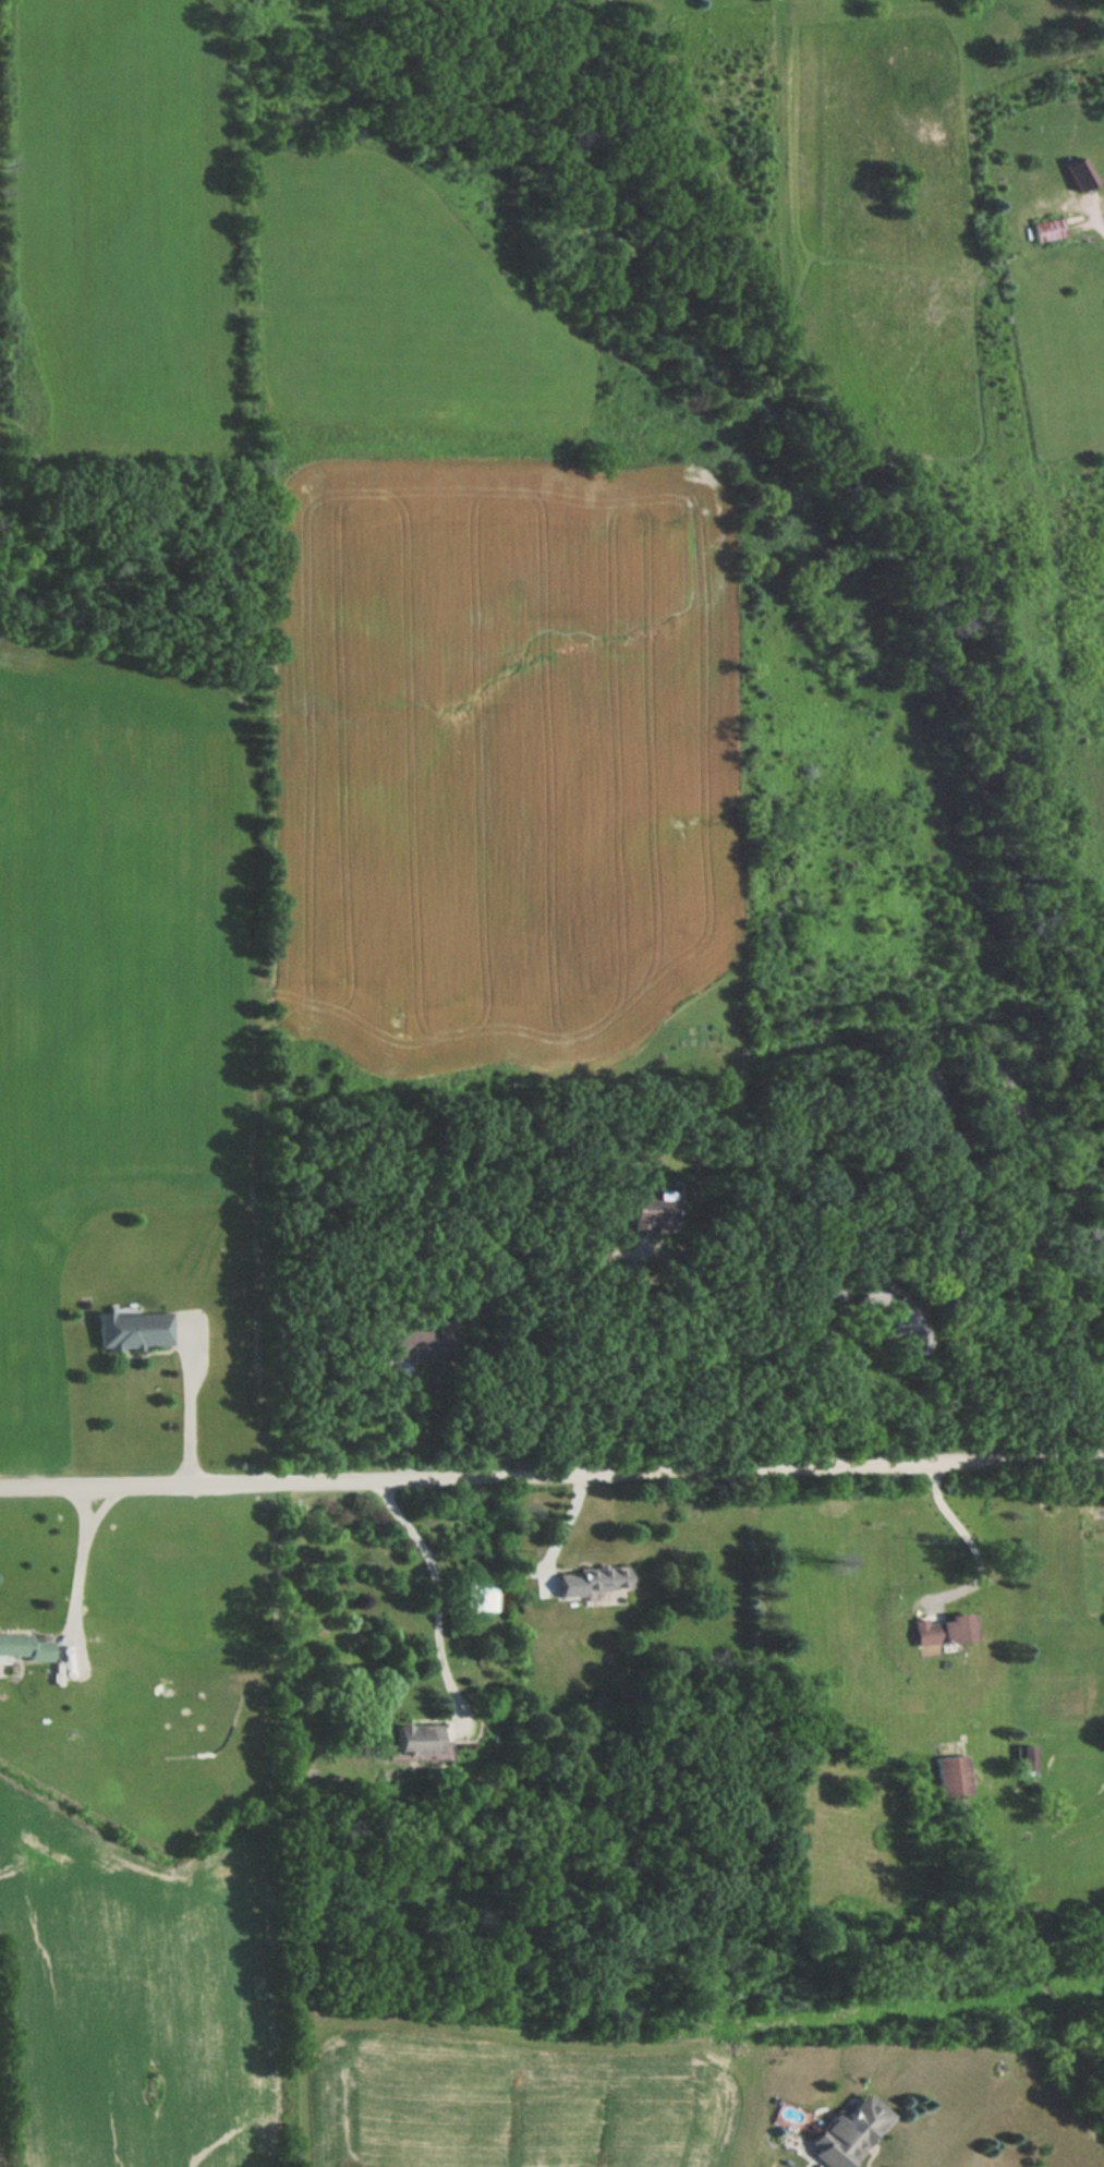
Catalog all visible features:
building: (1078, 172)
road: (1094, 215)
road: (1083, 220)
building: (1048, 228)
building: (932, 1101)
building: (891, 1313)
building: (135, 1329)
road: (622, 1363)
road: (847, 1367)
road: (884, 1380)
road: (190, 1406)
road: (403, 1431)
road: (551, 1474)
road: (82, 1504)
road: (102, 1504)
road: (561, 1533)
road: (975, 1548)
road: (534, 1569)
building: (592, 1582)
road: (76, 1587)
road: (435, 1593)
building: (483, 1595)
building: (945, 1630)
building: (23, 1646)
building: (418, 1739)
building: (1028, 1757)
building: (955, 1775)
building: (850, 2134)

